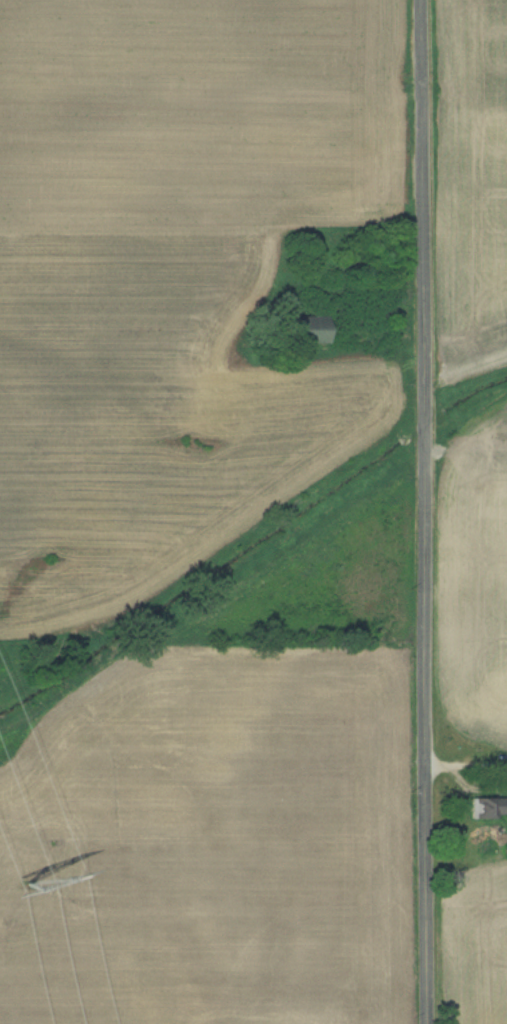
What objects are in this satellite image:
building: (301, 329)
road: (426, 511)
building: (489, 808)
power tower: (26, 881)

